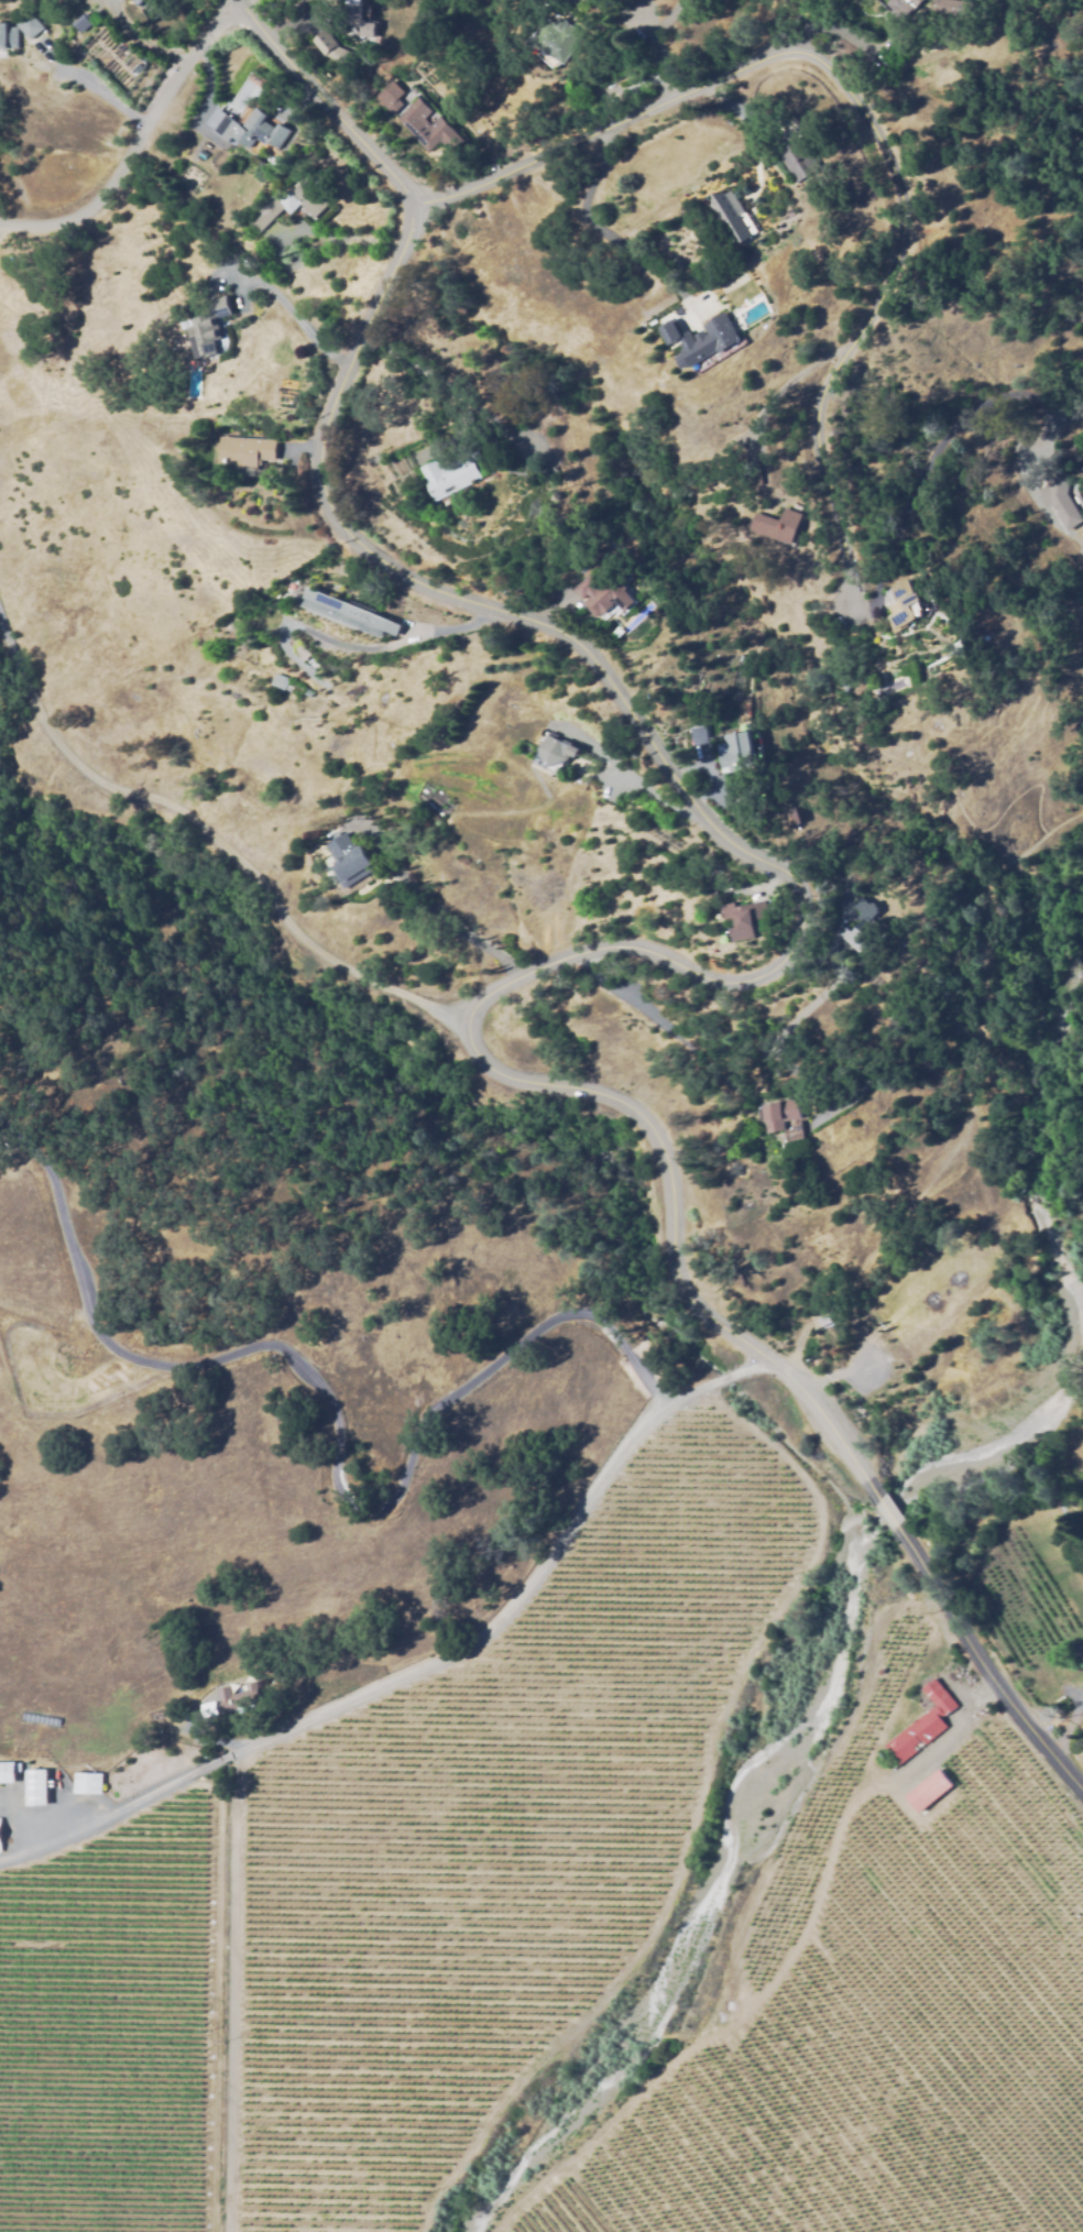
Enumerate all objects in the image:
building: (901, 6)
building: (950, 7)
building: (358, 19)
building: (31, 26)
road: (840, 32)
building: (8, 37)
building: (556, 37)
road: (649, 39)
building: (331, 50)
road: (843, 81)
building: (390, 95)
road: (327, 109)
building: (425, 124)
building: (253, 131)
road: (134, 142)
building: (799, 158)
building: (288, 206)
road: (589, 212)
building: (728, 212)
building: (205, 324)
building: (669, 330)
building: (708, 340)
building: (248, 453)
building: (447, 474)
building: (751, 478)
building: (1062, 500)
building: (778, 524)
building: (1080, 549)
road: (853, 554)
building: (597, 592)
building: (902, 601)
building: (341, 611)
building: (306, 657)
building: (287, 685)
road: (628, 701)
building: (698, 733)
building: (735, 752)
building: (551, 753)
building: (792, 814)
building: (347, 861)
building: (741, 918)
road: (450, 926)
building: (860, 927)
road: (631, 1101)
building: (780, 1113)
building: (820, 1322)
building: (1062, 1532)
building: (1073, 1656)
building: (238, 1697)
building: (920, 1727)
building: (7, 1773)
building: (88, 1784)
building: (36, 1788)
building: (928, 1791)
building: (0, 1841)

